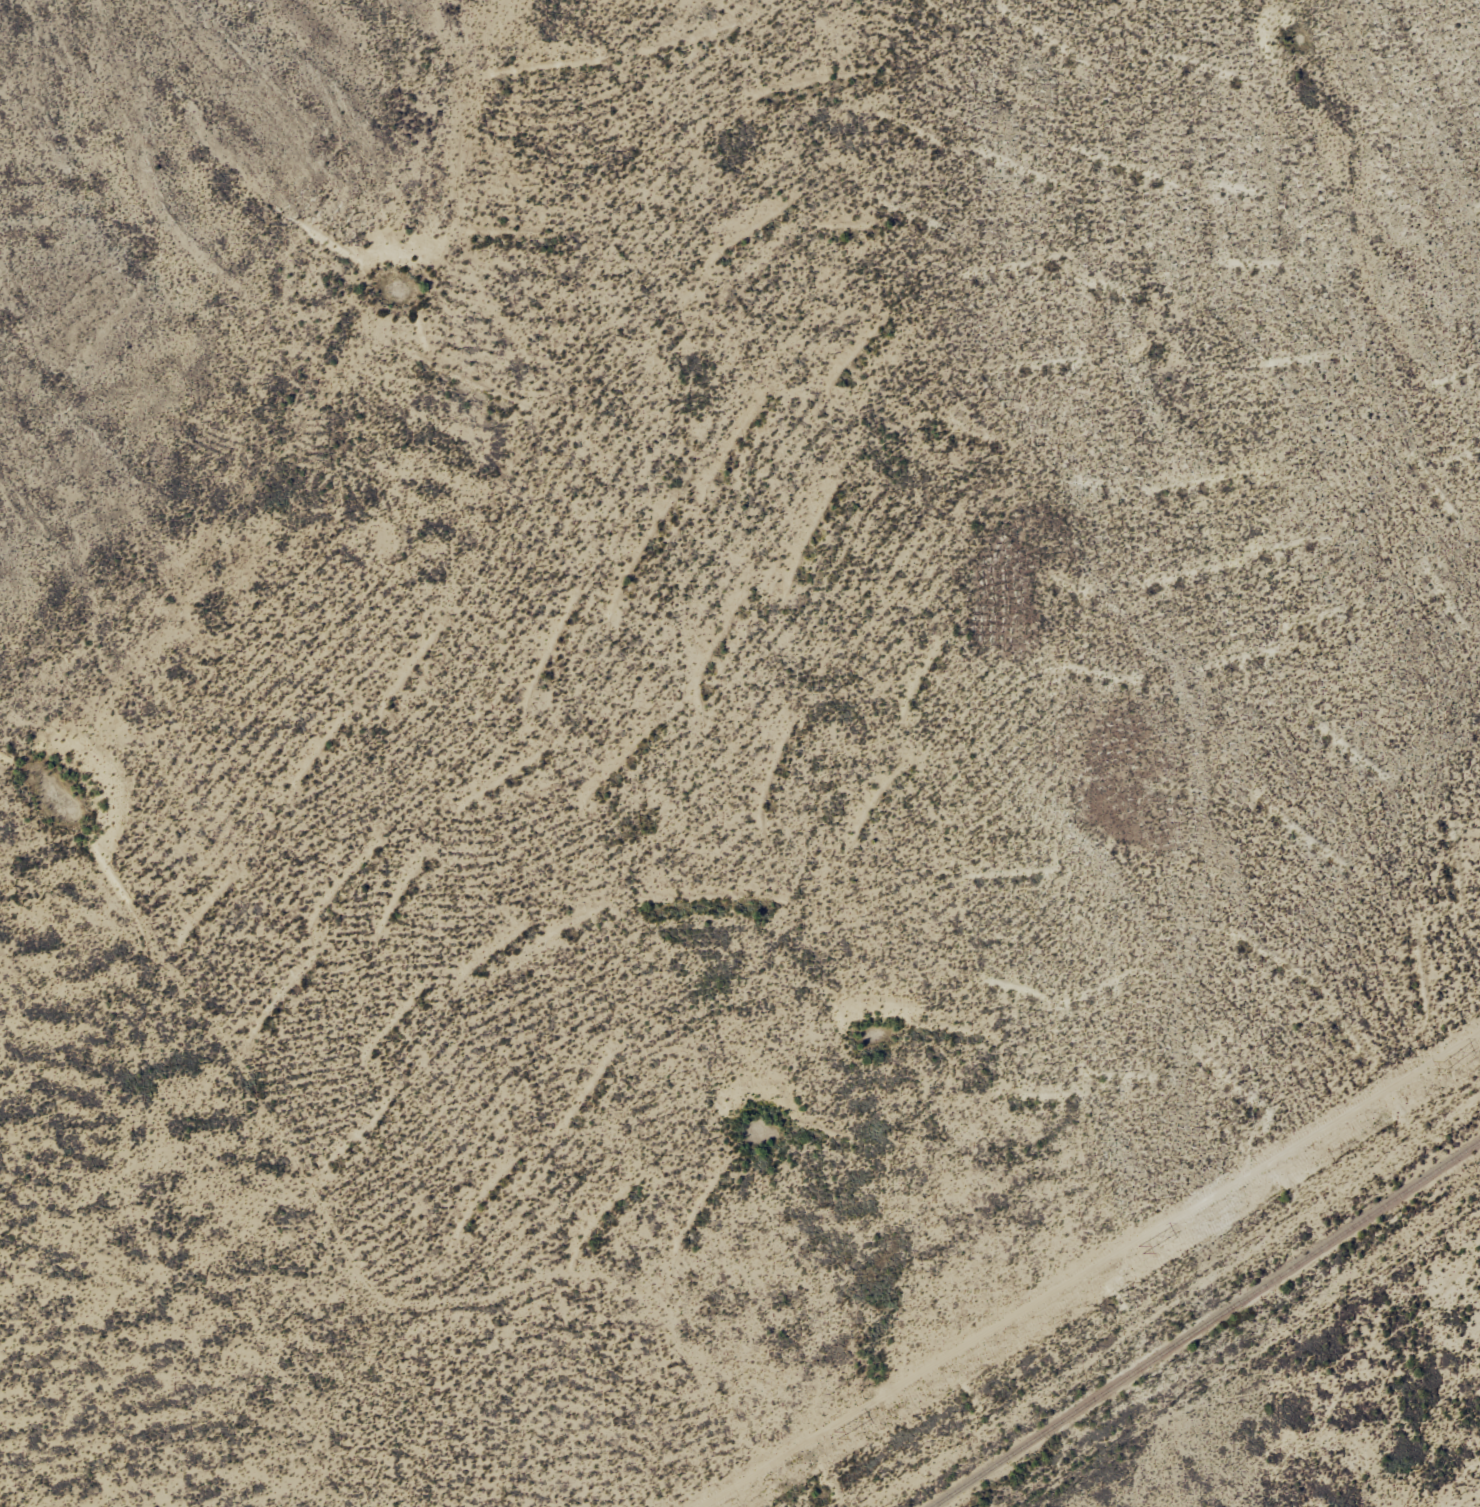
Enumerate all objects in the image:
power tower: (1444, 1064)
power tower: (1140, 1249)
road: (1145, 1279)
railway: (1205, 1324)
road: (1311, 1402)
power tower: (835, 1435)

